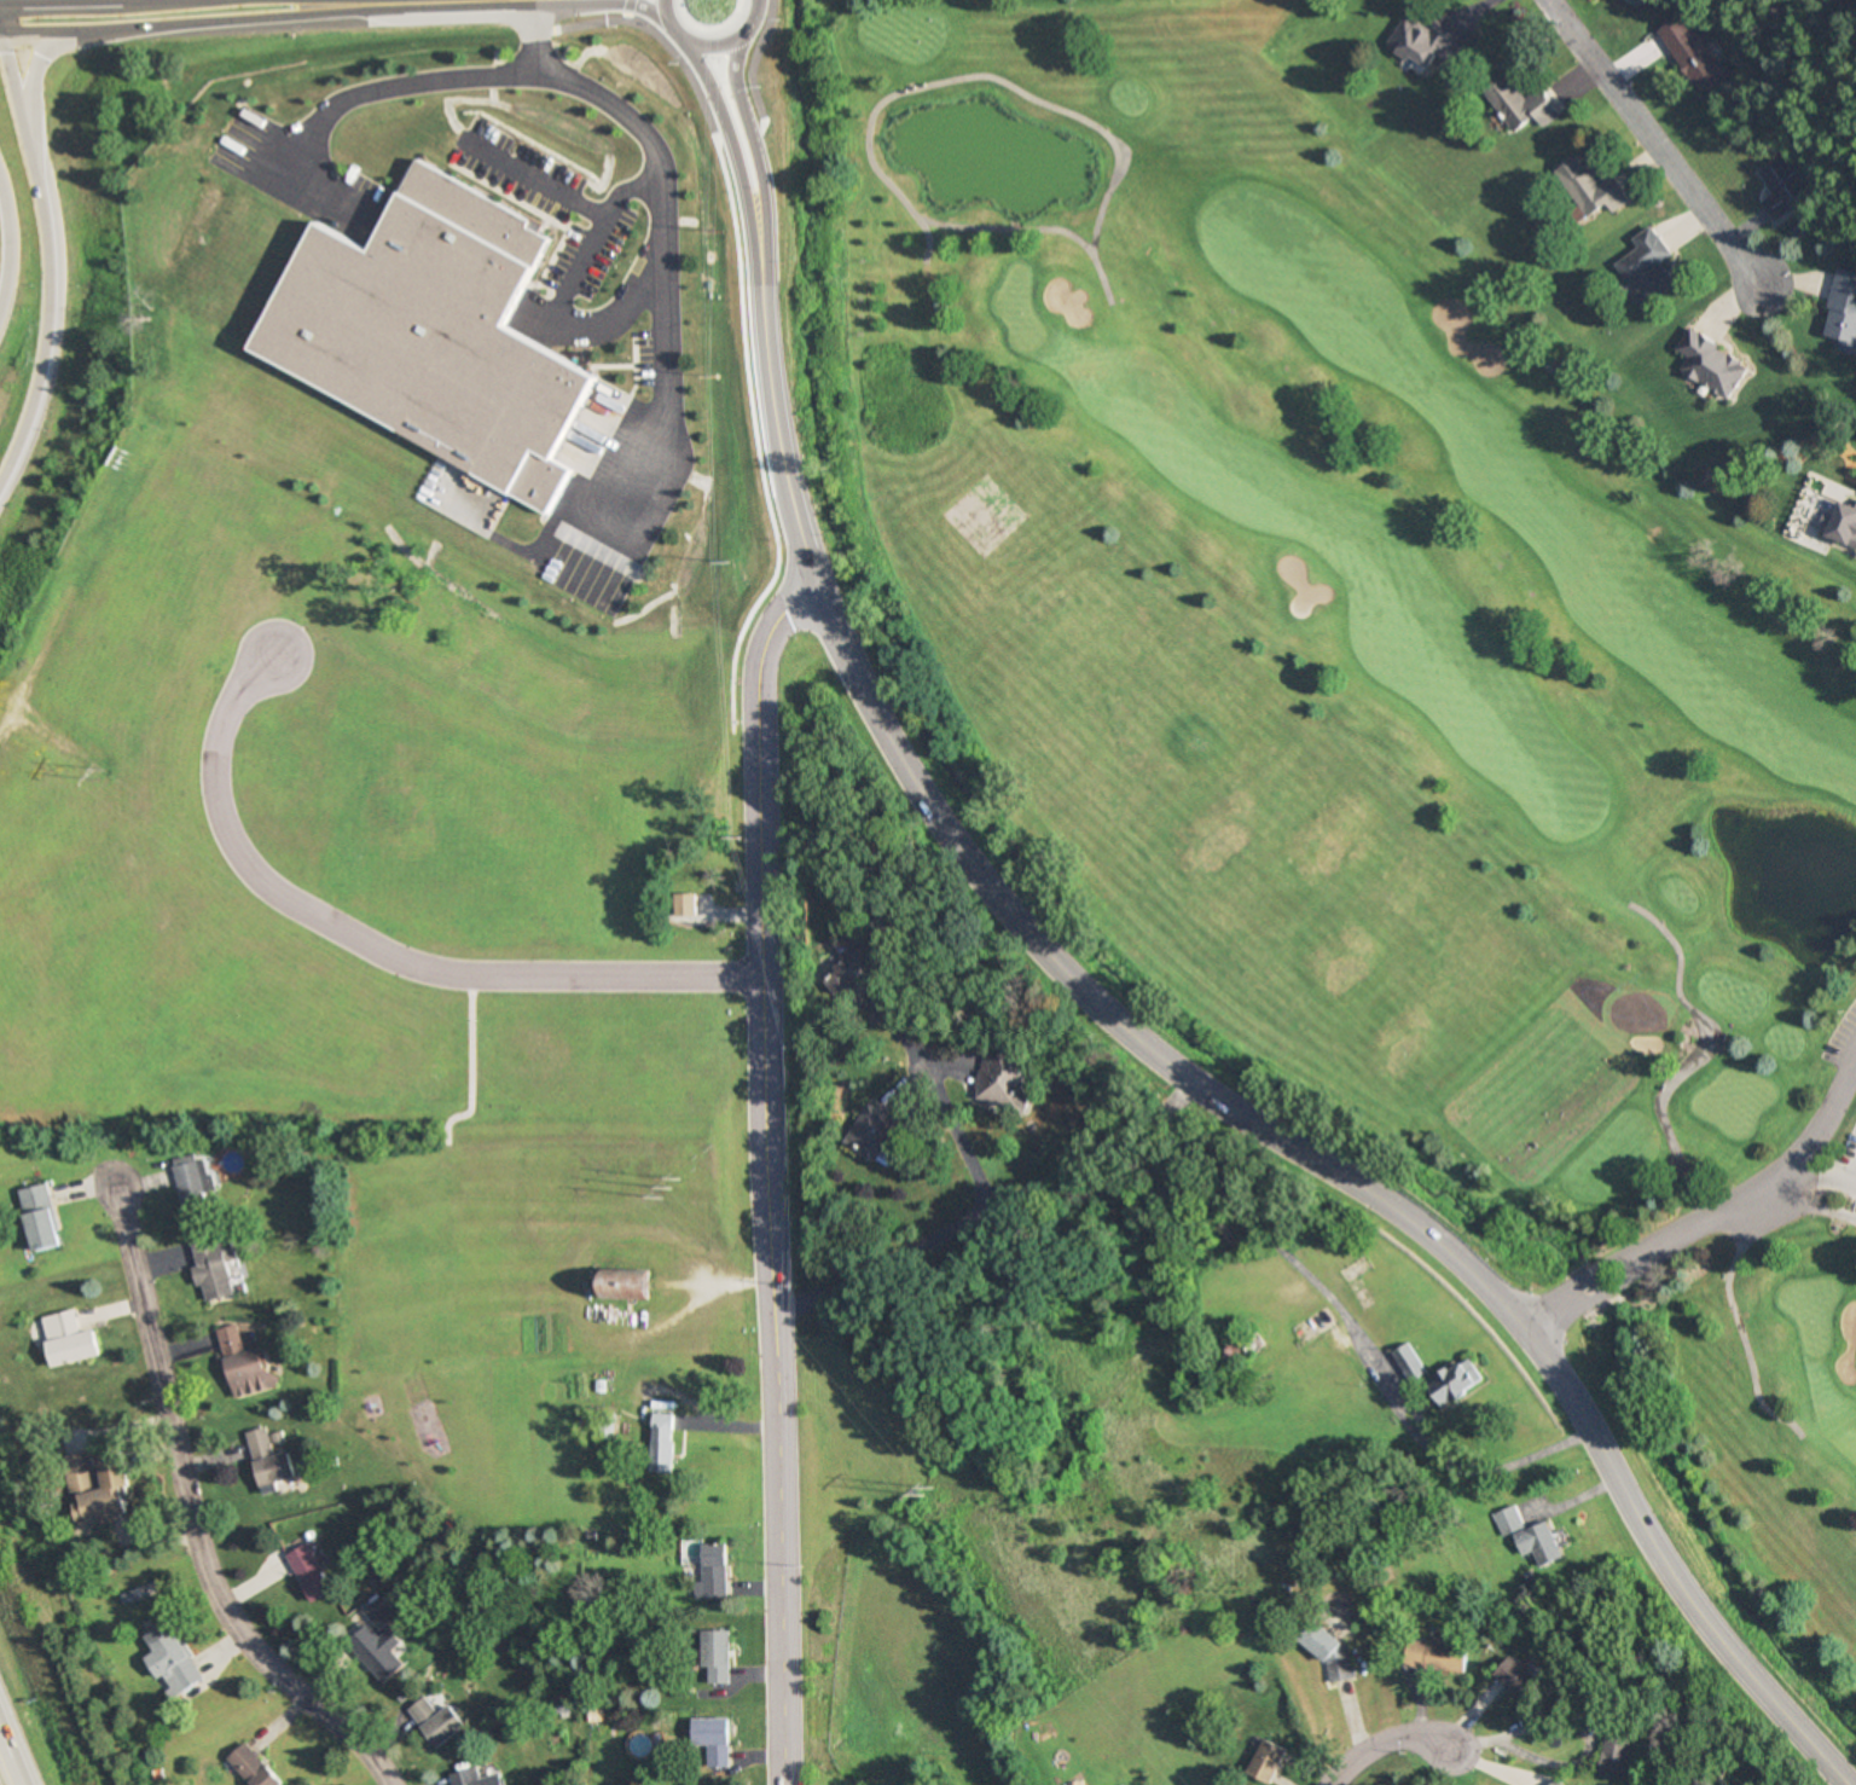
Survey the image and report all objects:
road: (604, 0)
road: (77, 2)
road: (265, 12)
road: (527, 34)
building: (1417, 37)
road: (709, 47)
building: (1687, 52)
road: (991, 74)
building: (1516, 94)
road: (29, 97)
road: (610, 102)
road: (754, 110)
road: (721, 120)
road: (1649, 140)
building: (1583, 181)
building: (1771, 187)
road: (999, 220)
road: (10, 245)
road: (50, 259)
building: (1638, 262)
building: (1839, 309)
road: (602, 315)
building: (427, 326)
building: (1703, 359)
road: (770, 405)
building: (1841, 518)
park: (1361, 694)
power tower: (98, 772)
building: (686, 905)
road: (372, 946)
building: (864, 969)
road: (1100, 1003)
parking lot: (1841, 1039)
building: (1009, 1083)
building: (886, 1135)
parking lot: (1849, 1148)
road: (1677, 1159)
road: (761, 1173)
road: (1339, 1173)
road: (1822, 1178)
road: (1854, 1181)
building: (197, 1186)
power tower: (672, 1188)
road: (1809, 1199)
road: (1712, 1206)
road: (963, 1216)
building: (42, 1218)
road: (1719, 1219)
building: (215, 1265)
building: (632, 1285)
park: (1805, 1303)
park: (400, 1310)
building: (69, 1340)
building: (231, 1340)
building: (1410, 1362)
building: (250, 1373)
building: (1460, 1384)
building: (665, 1443)
building: (271, 1464)
building: (98, 1486)
power tower: (928, 1491)
road: (192, 1515)
building: (1530, 1537)
building: (713, 1572)
building: (309, 1574)
park: (895, 1630)
building: (379, 1642)
building: (1437, 1657)
building: (714, 1658)
building: (172, 1662)
building: (1520, 1679)
building: (437, 1722)
road: (1379, 1741)
building: (710, 1744)
building: (1617, 1758)
building: (1271, 1761)
park: (993, 1762)
road: (7, 1764)
building: (253, 1767)
building: (476, 1778)
building: (1556, 1783)

